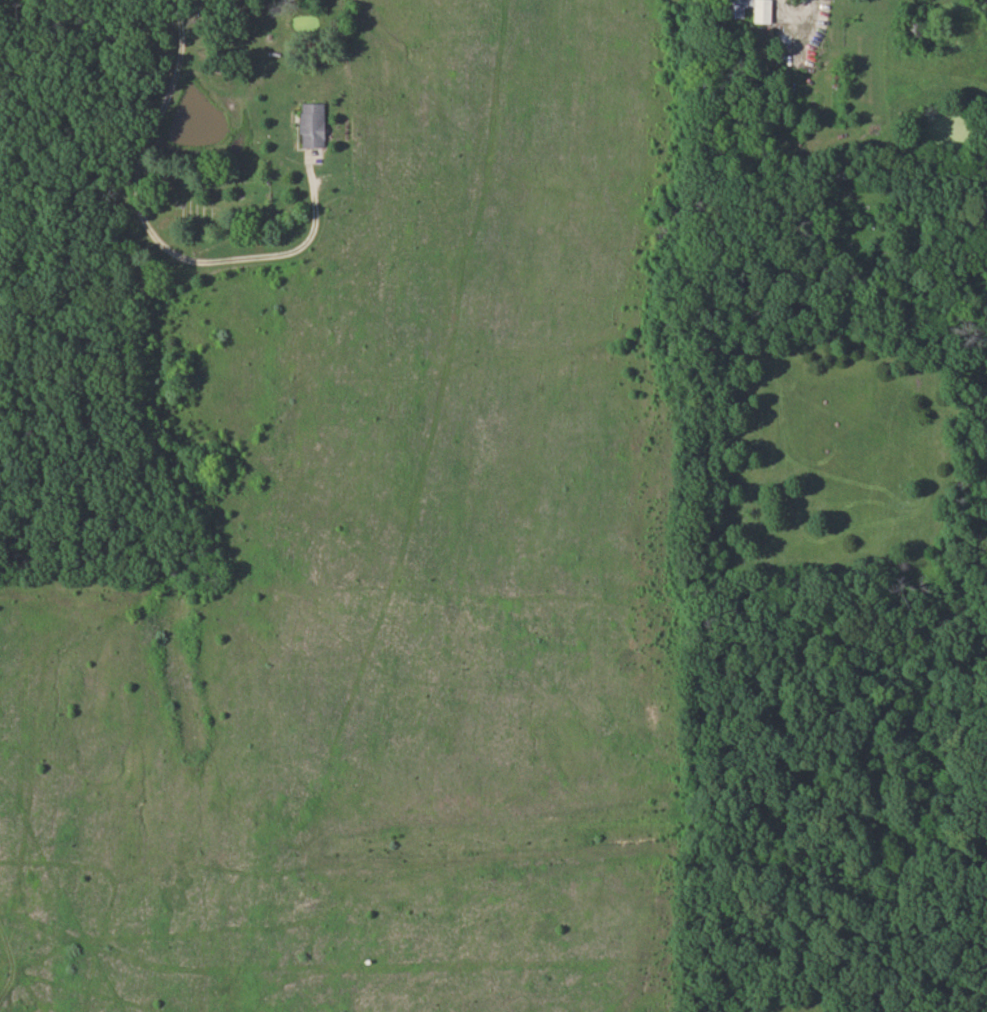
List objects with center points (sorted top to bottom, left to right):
building: (750, 9)
building: (314, 124)
road: (151, 222)

